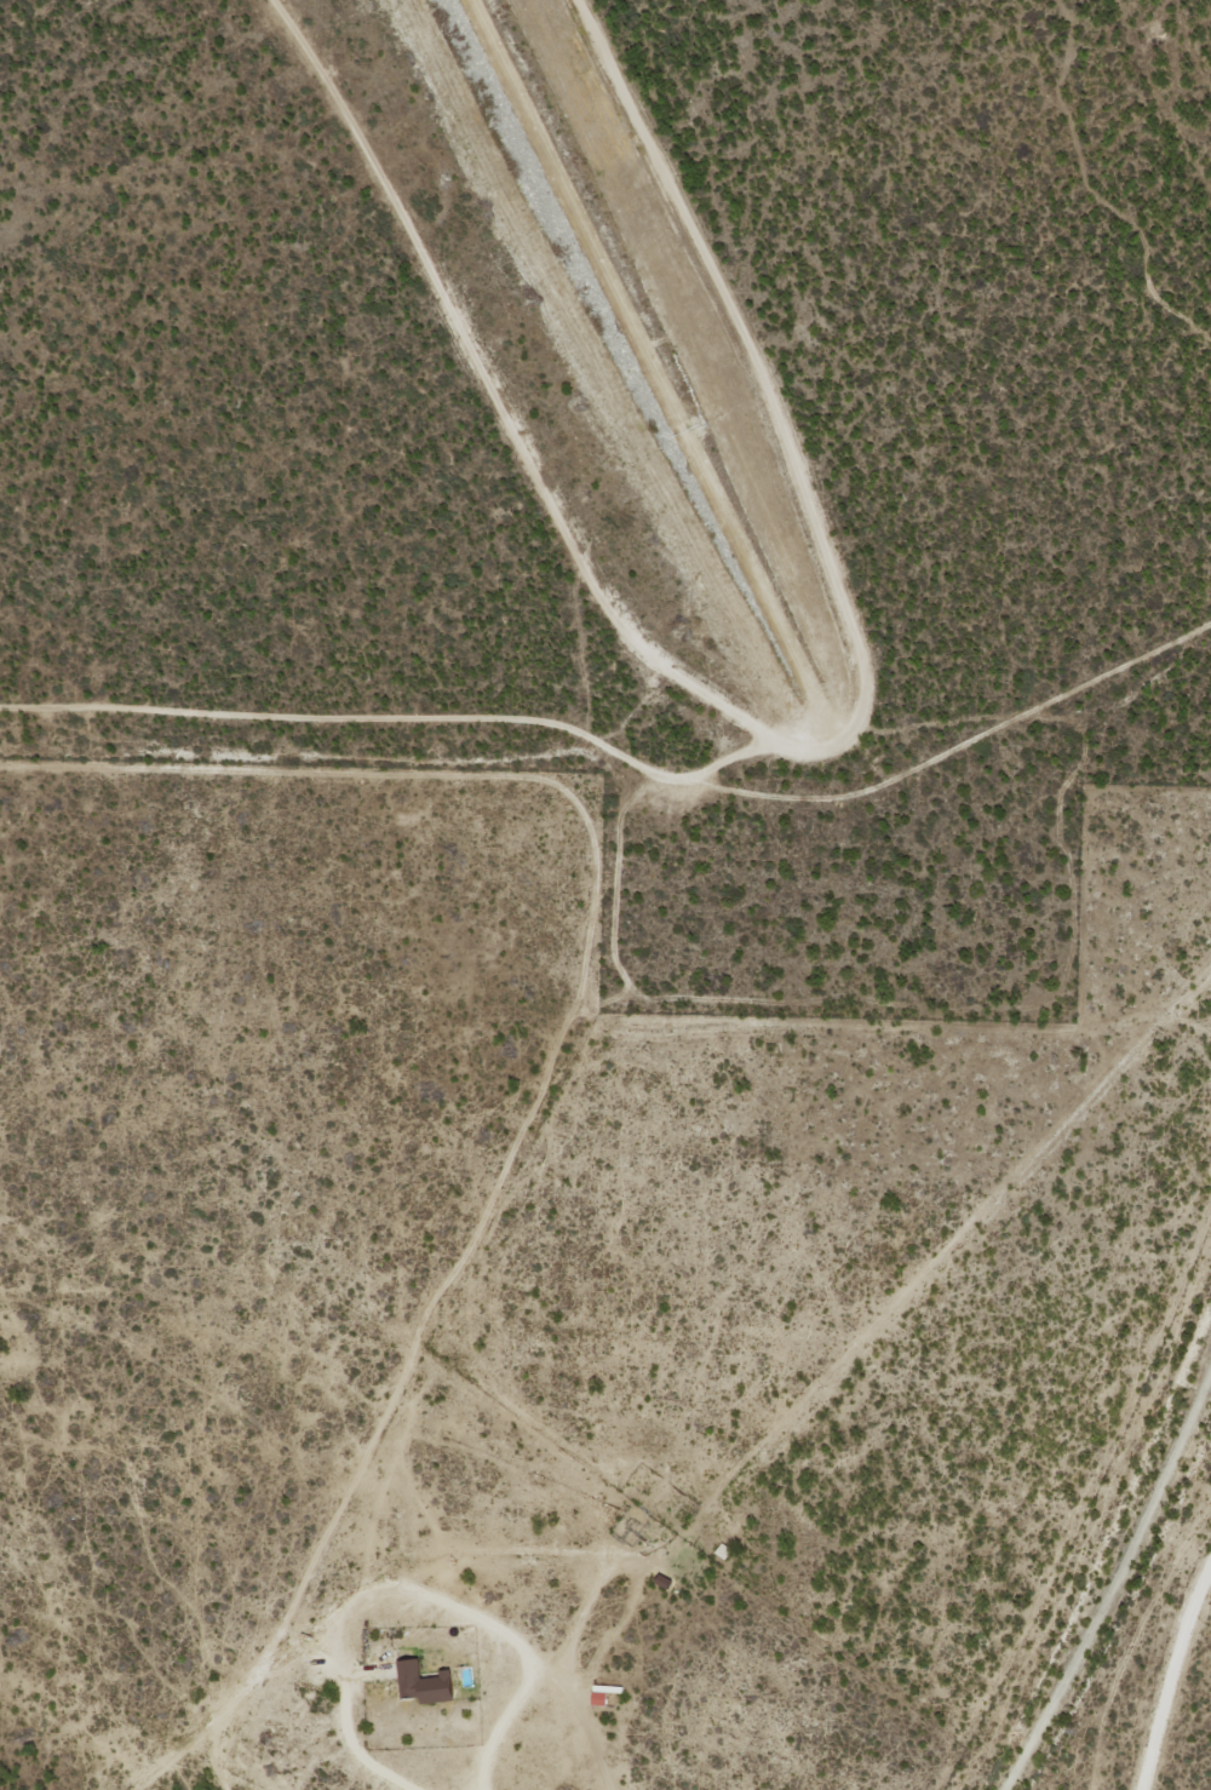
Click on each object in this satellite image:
dam: (609, 297)
road: (654, 371)
road: (493, 396)
road: (779, 434)
road: (624, 758)
road: (586, 925)
road: (1110, 1574)
road: (373, 1584)
railway: (1127, 1611)
road: (1170, 1674)
building: (426, 1683)
building: (603, 1696)

